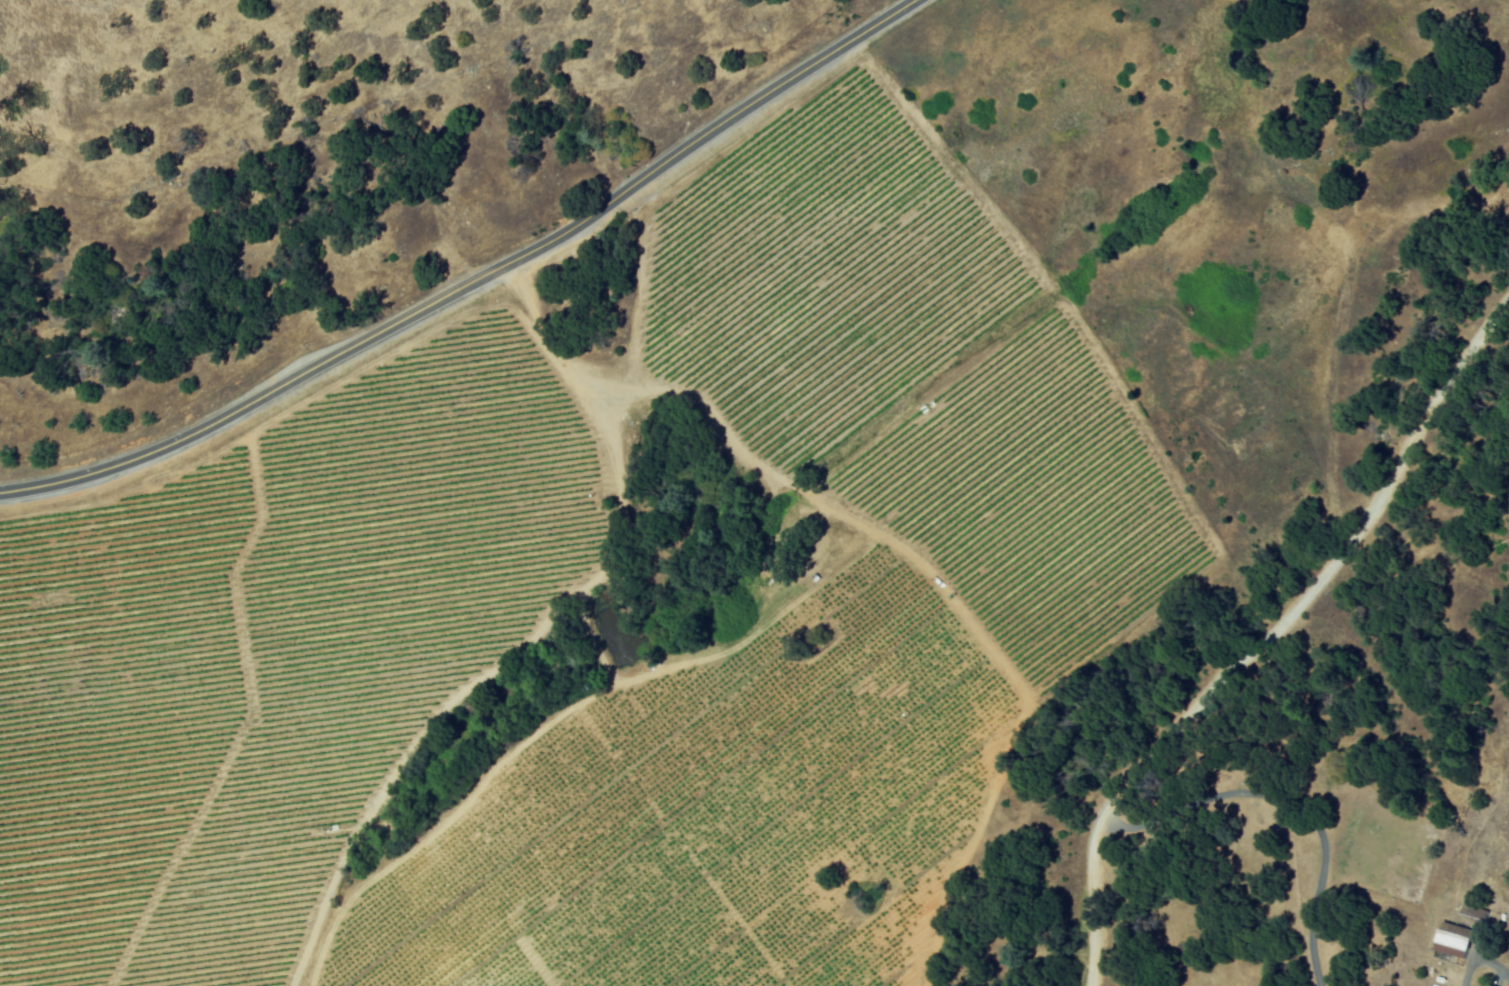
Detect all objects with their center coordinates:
road: (478, 298)
road: (1267, 638)
road: (1291, 802)
building: (1456, 939)
road: (1482, 963)
building: (1487, 985)

